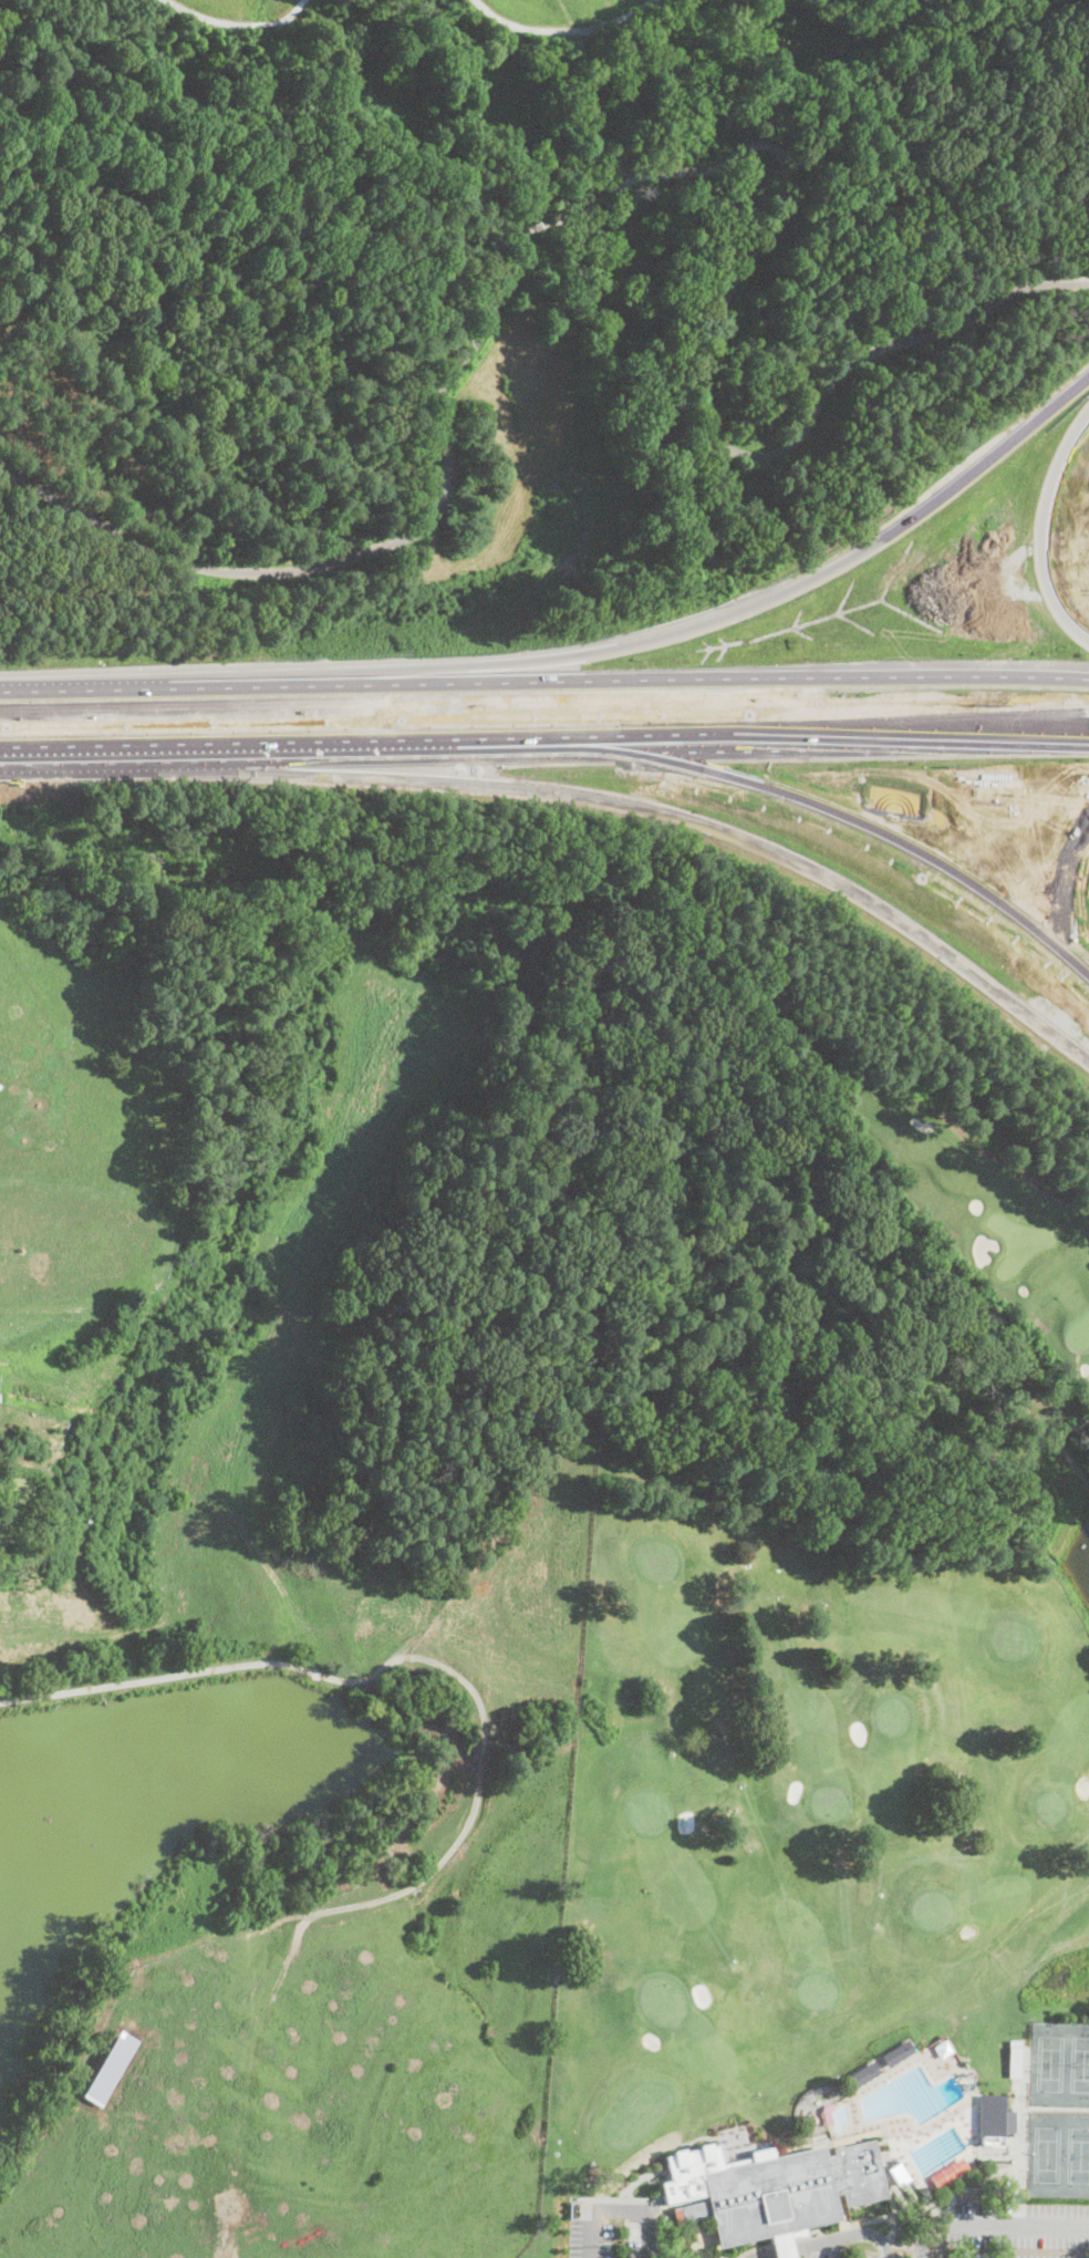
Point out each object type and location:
road: (237, 23)
road: (562, 29)
road: (811, 66)
road: (684, 172)
park: (492, 270)
road: (736, 452)
road: (432, 517)
road: (1044, 528)
road: (726, 617)
road: (544, 682)
road: (1046, 739)
road: (501, 750)
road: (660, 810)
building: (844, 1262)
road: (992, 1381)
building: (467, 1505)
building: (442, 1506)
building: (730, 1552)
crop: (242, 1603)
road: (355, 1676)
building: (343, 1825)
building: (943, 2048)
building: (898, 2052)
building: (1021, 2060)
building: (110, 2065)
building: (863, 2073)
building: (827, 2113)
building: (923, 2140)
building: (785, 2151)
building: (898, 2173)
building: (787, 2190)
road: (621, 2208)
road: (991, 2224)
road: (844, 2236)
road: (778, 2249)
road: (761, 2255)

